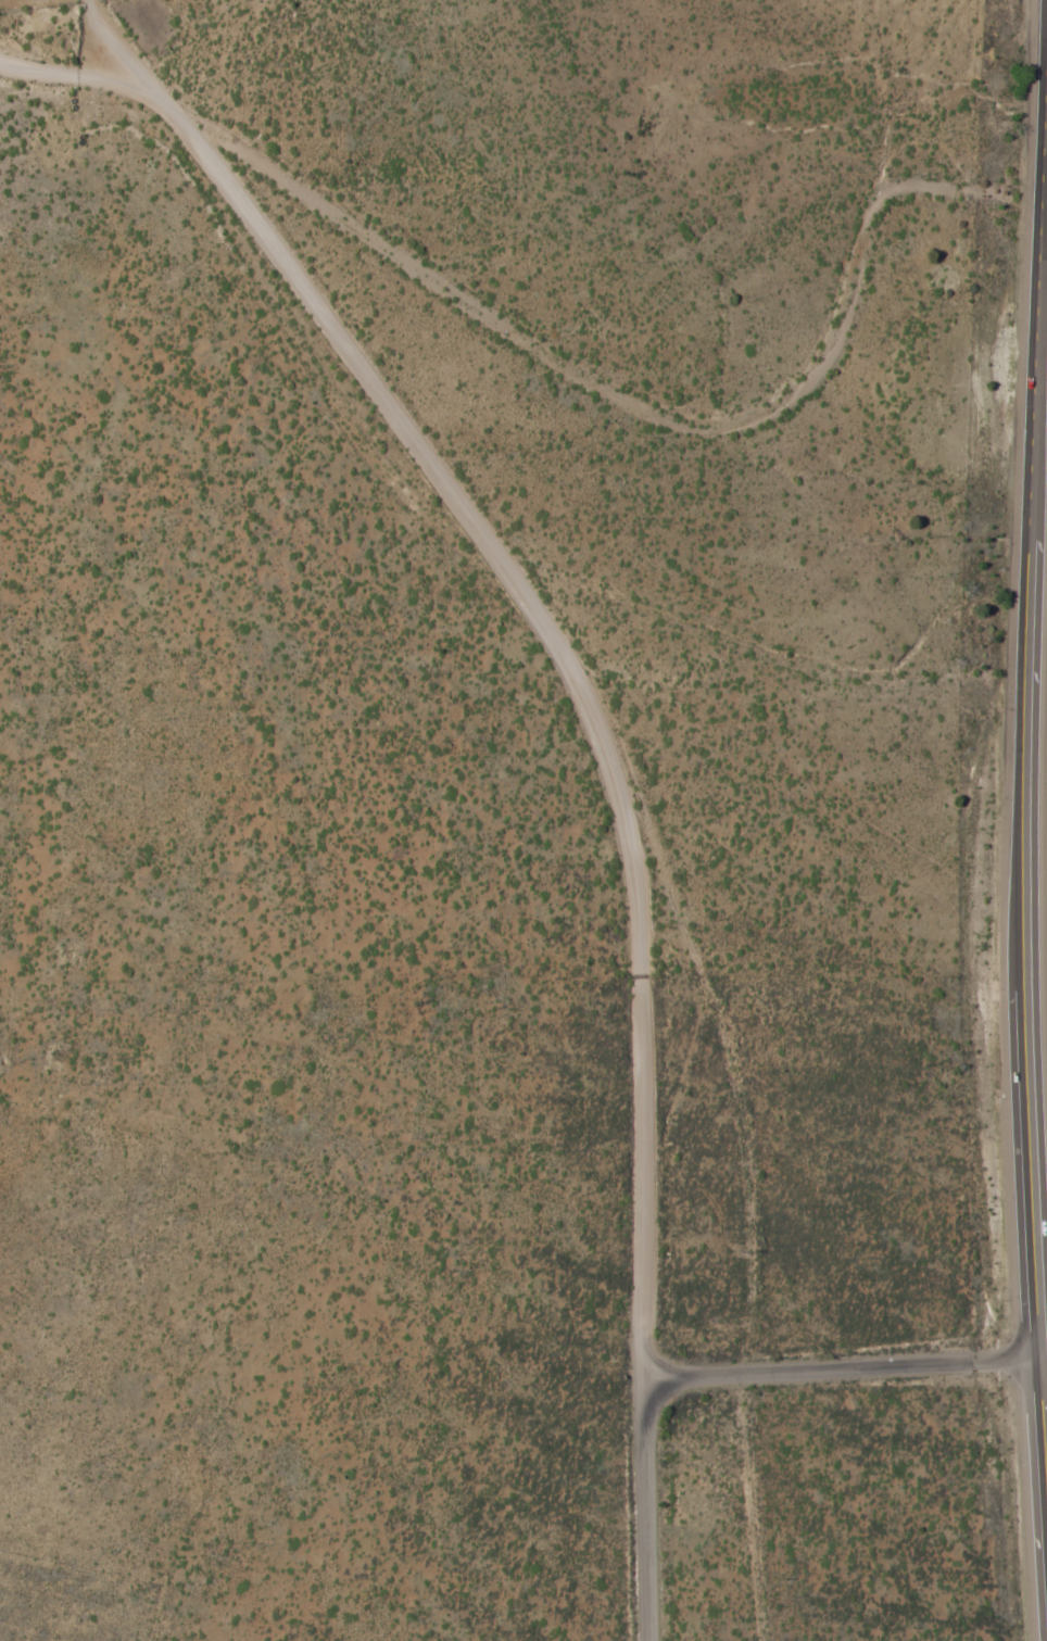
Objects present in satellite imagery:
road: (1030, 766)
road: (710, 1374)

